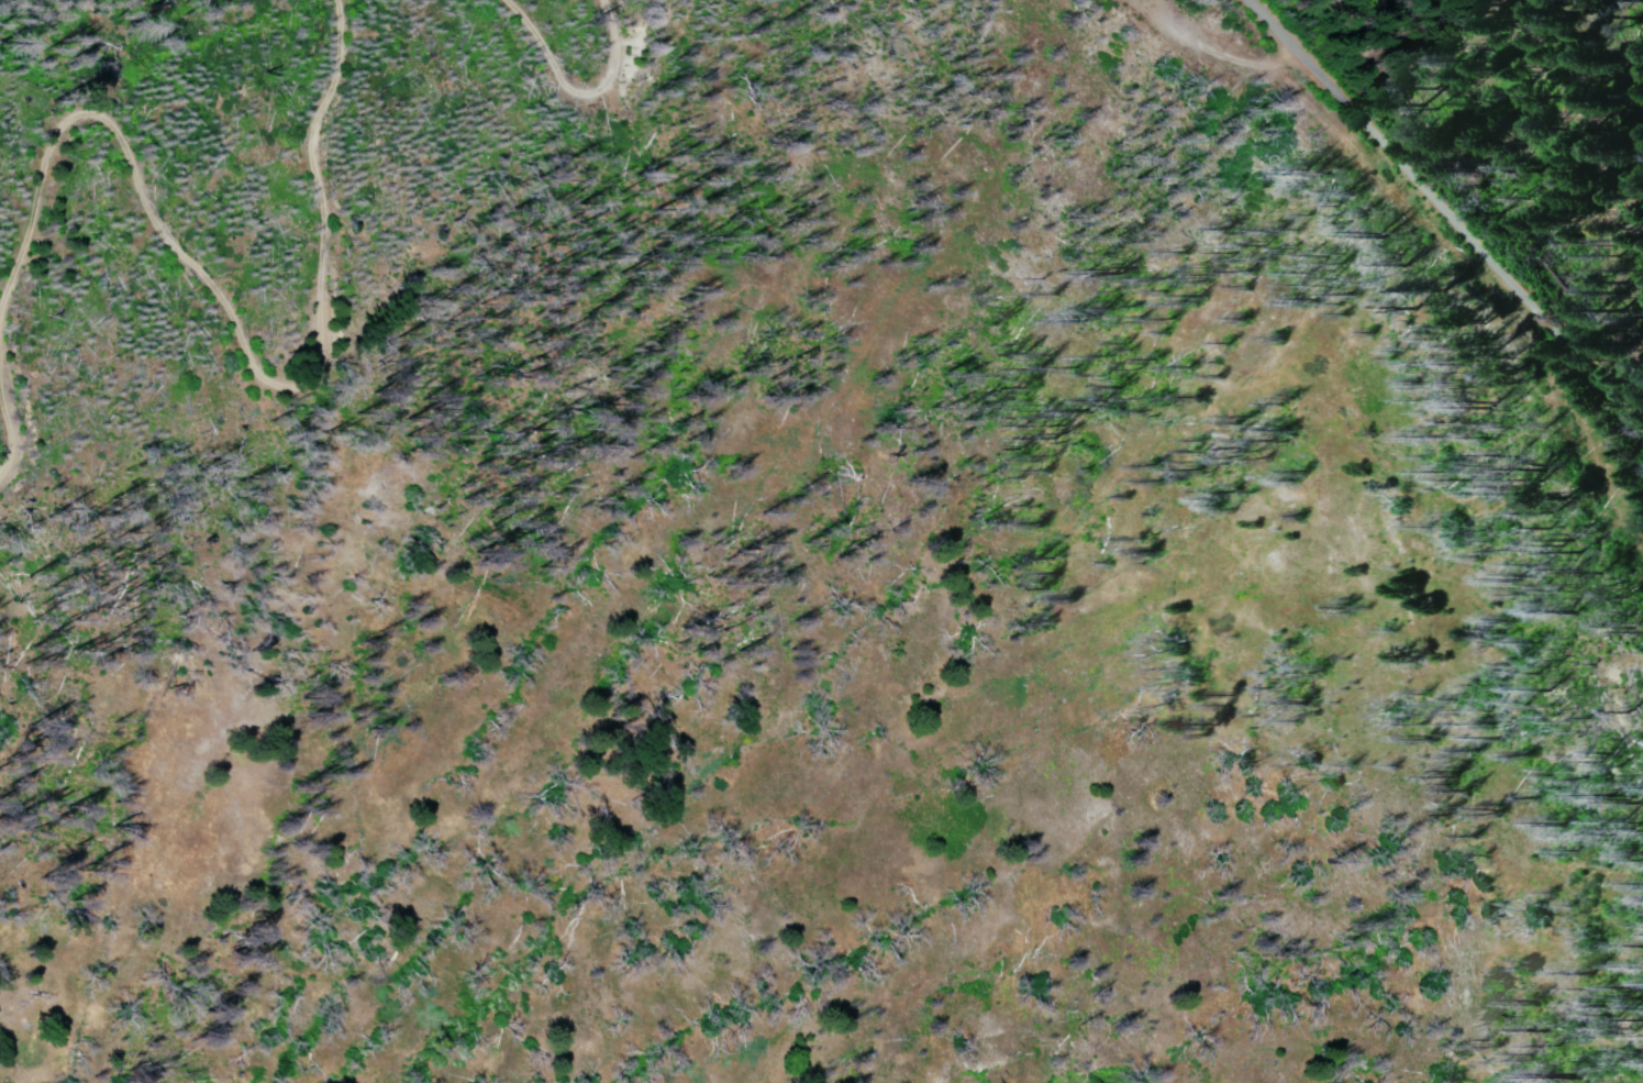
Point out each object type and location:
road: (1450, 188)

